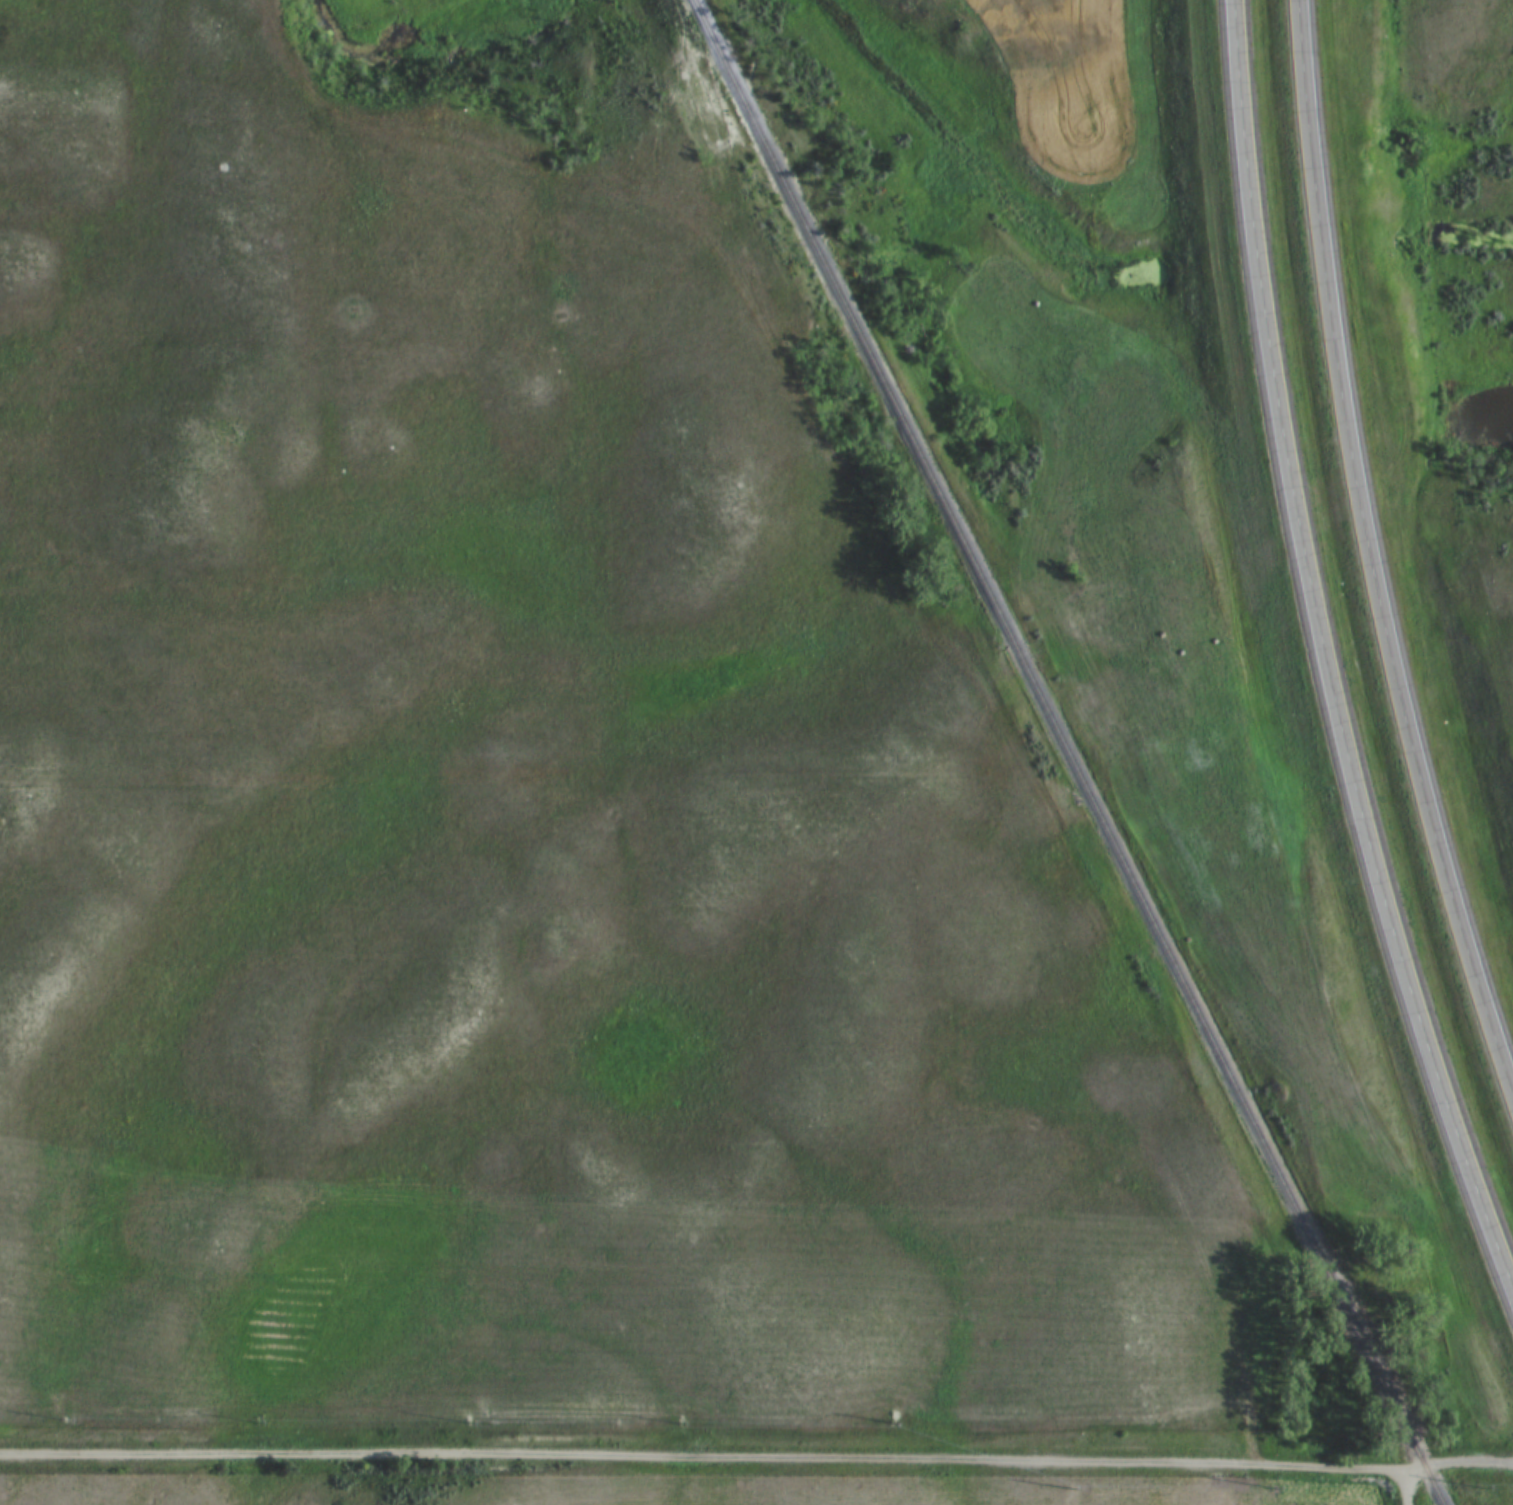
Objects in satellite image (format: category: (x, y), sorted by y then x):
road: (1374, 550)
road: (1326, 646)
railway: (1066, 752)
road: (756, 1453)
road: (1403, 1487)

